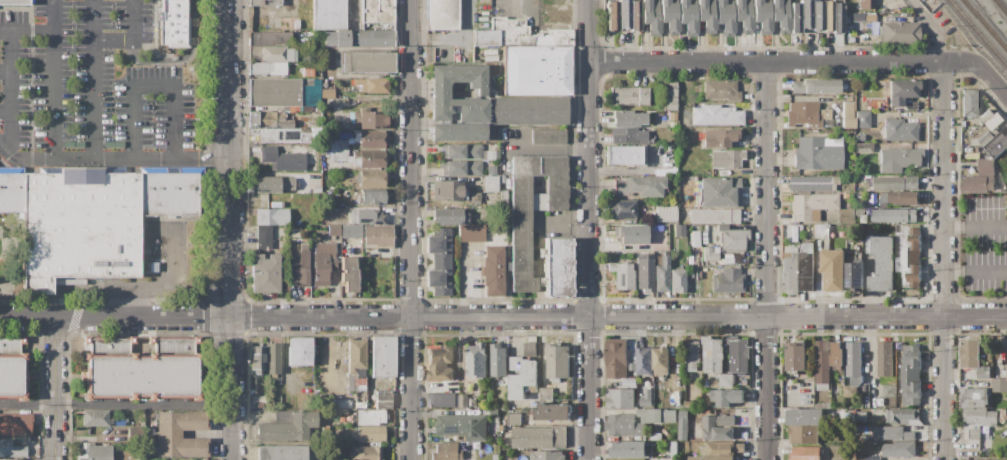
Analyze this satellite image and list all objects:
building: (15, 2)
building: (264, 2)
road: (512, 2)
building: (867, 4)
railway: (1000, 7)
building: (329, 14)
building: (377, 14)
building: (440, 14)
building: (624, 14)
building: (806, 14)
building: (612, 15)
building: (635, 15)
building: (706, 15)
building: (743, 15)
building: (780, 15)
building: (818, 15)
building: (828, 15)
building: (651, 16)
building: (669, 16)
building: (762, 16)
building: (688, 17)
building: (725, 17)
building: (795, 17)
building: (837, 17)
building: (869, 18)
road: (589, 21)
building: (173, 23)
railway: (984, 26)
road: (932, 27)
building: (899, 33)
railway: (977, 34)
road: (32, 35)
building: (484, 37)
building: (358, 38)
building: (851, 38)
road: (133, 39)
building: (276, 39)
building: (277, 54)
building: (533, 59)
building: (368, 62)
road: (767, 62)
road: (6, 68)
building: (267, 68)
road: (981, 69)
building: (319, 70)
road: (50, 76)
road: (93, 76)
parking lot: (101, 82)
road: (151, 84)
building: (358, 86)
building: (376, 86)
building: (815, 86)
road: (13, 87)
building: (721, 90)
building: (284, 92)
building: (439, 92)
building: (328, 93)
building: (900, 93)
building: (628, 96)
building: (669, 96)
building: (857, 97)
building: (848, 98)
building: (969, 103)
road: (6, 106)
building: (290, 109)
building: (848, 109)
building: (527, 110)
building: (803, 114)
building: (716, 115)
building: (986, 116)
building: (825, 117)
building: (252, 119)
building: (628, 119)
building: (863, 119)
building: (274, 120)
building: (369, 120)
building: (848, 122)
building: (995, 122)
building: (963, 123)
building: (672, 124)
building: (900, 130)
building: (253, 131)
building: (981, 131)
building: (457, 132)
building: (280, 135)
building: (548, 136)
building: (628, 136)
building: (720, 137)
building: (370, 139)
building: (827, 141)
building: (837, 141)
building: (994, 143)
building: (69, 144)
building: (79, 144)
building: (108, 144)
building: (118, 144)
building: (864, 148)
building: (339, 151)
road: (111, 152)
building: (460, 152)
building: (817, 154)
building: (623, 155)
building: (283, 159)
building: (368, 159)
building: (726, 159)
building: (898, 159)
building: (461, 167)
road: (629, 169)
building: (372, 178)
building: (980, 178)
building: (315, 183)
building: (491, 183)
building: (813, 183)
building: (894, 183)
building: (267, 184)
building: (285, 186)
building: (640, 186)
building: (447, 190)
building: (720, 192)
building: (371, 196)
building: (475, 197)
building: (899, 198)
building: (504, 202)
building: (539, 202)
building: (277, 205)
building: (456, 205)
building: (811, 206)
building: (1006, 206)
building: (623, 208)
building: (859, 212)
building: (666, 214)
building: (894, 215)
building: (271, 216)
building: (367, 216)
building: (447, 216)
building: (714, 216)
building: (91, 217)
building: (142, 224)
building: (722, 226)
road: (976, 226)
building: (800, 227)
building: (704, 228)
building: (868, 228)
building: (874, 228)
building: (334, 229)
road: (410, 229)
road: (227, 230)
building: (352, 230)
building: (680, 230)
building: (821, 231)
building: (0, 233)
building: (472, 233)
building: (632, 234)
building: (263, 235)
building: (732, 239)
building: (378, 242)
building: (521, 244)
building: (657, 247)
building: (793, 249)
road: (589, 251)
building: (710, 253)
building: (910, 256)
building: (438, 261)
road: (766, 261)
road: (945, 261)
building: (323, 263)
building: (881, 263)
building: (299, 265)
building: (898, 266)
building: (557, 267)
building: (806, 267)
building: (833, 270)
building: (493, 271)
building: (644, 272)
road: (976, 272)
building: (264, 274)
building: (349, 274)
building: (790, 274)
building: (662, 275)
building: (854, 275)
building: (622, 276)
building: (677, 280)
building: (728, 280)
building: (707, 286)
road: (169, 289)
road: (503, 317)
building: (1006, 346)
building: (530, 349)
building: (299, 351)
building: (969, 352)
building: (692, 354)
building: (712, 355)
building: (739, 355)
building: (355, 356)
building: (382, 356)
building: (836, 356)
building: (257, 358)
building: (272, 358)
building: (631, 358)
building: (795, 358)
building: (616, 359)
building: (853, 360)
building: (885, 360)
building: (476, 361)
building: (498, 361)
building: (557, 362)
building: (644, 362)
building: (660, 362)
building: (822, 362)
building: (440, 363)
building: (12, 368)
building: (142, 369)
building: (983, 373)
building: (911, 375)
building: (522, 377)
building: (352, 380)
building: (726, 381)
building: (856, 381)
building: (629, 383)
building: (744, 383)
building: (705, 384)
building: (714, 385)
building: (999, 385)
building: (469, 387)
building: (822, 387)
road: (55, 389)
building: (859, 390)
building: (865, 390)
building: (888, 391)
building: (849, 392)
building: (545, 395)
building: (675, 396)
building: (726, 397)
building: (974, 398)
building: (257, 399)
building: (619, 399)
building: (645, 399)
building: (384, 400)
building: (442, 400)
building: (463, 401)
building: (333, 402)
building: (472, 402)
building: (268, 404)
building: (342, 404)
building: (690, 404)
road: (114, 405)
building: (533, 405)
building: (828, 406)
building: (553, 413)
building: (1004, 413)
building: (281, 416)
building: (336, 416)
building: (656, 416)
building: (902, 416)
building: (979, 416)
building: (369, 417)
building: (805, 417)
building: (861, 417)
building: (95, 418)
building: (514, 420)
building: (15, 423)
building: (681, 425)
building: (453, 426)
building: (624, 426)
building: (288, 427)
building: (720, 428)
building: (337, 432)
building: (489, 433)
building: (892, 433)
building: (169, 434)
building: (370, 434)
building: (695, 434)
building: (974, 434)
building: (135, 435)
building: (803, 435)
building: (539, 438)
building: (475, 439)
building: (11, 449)
building: (628, 449)
building: (673, 449)
building: (722, 449)
building: (899, 450)
building: (94, 452)
building: (447, 452)
building: (281, 453)
building: (365, 453)
building: (806, 453)
building: (547, 455)
building: (496, 457)
building: (715, 458)
building: (870, 458)
building: (10, 459)
building: (970, 459)

